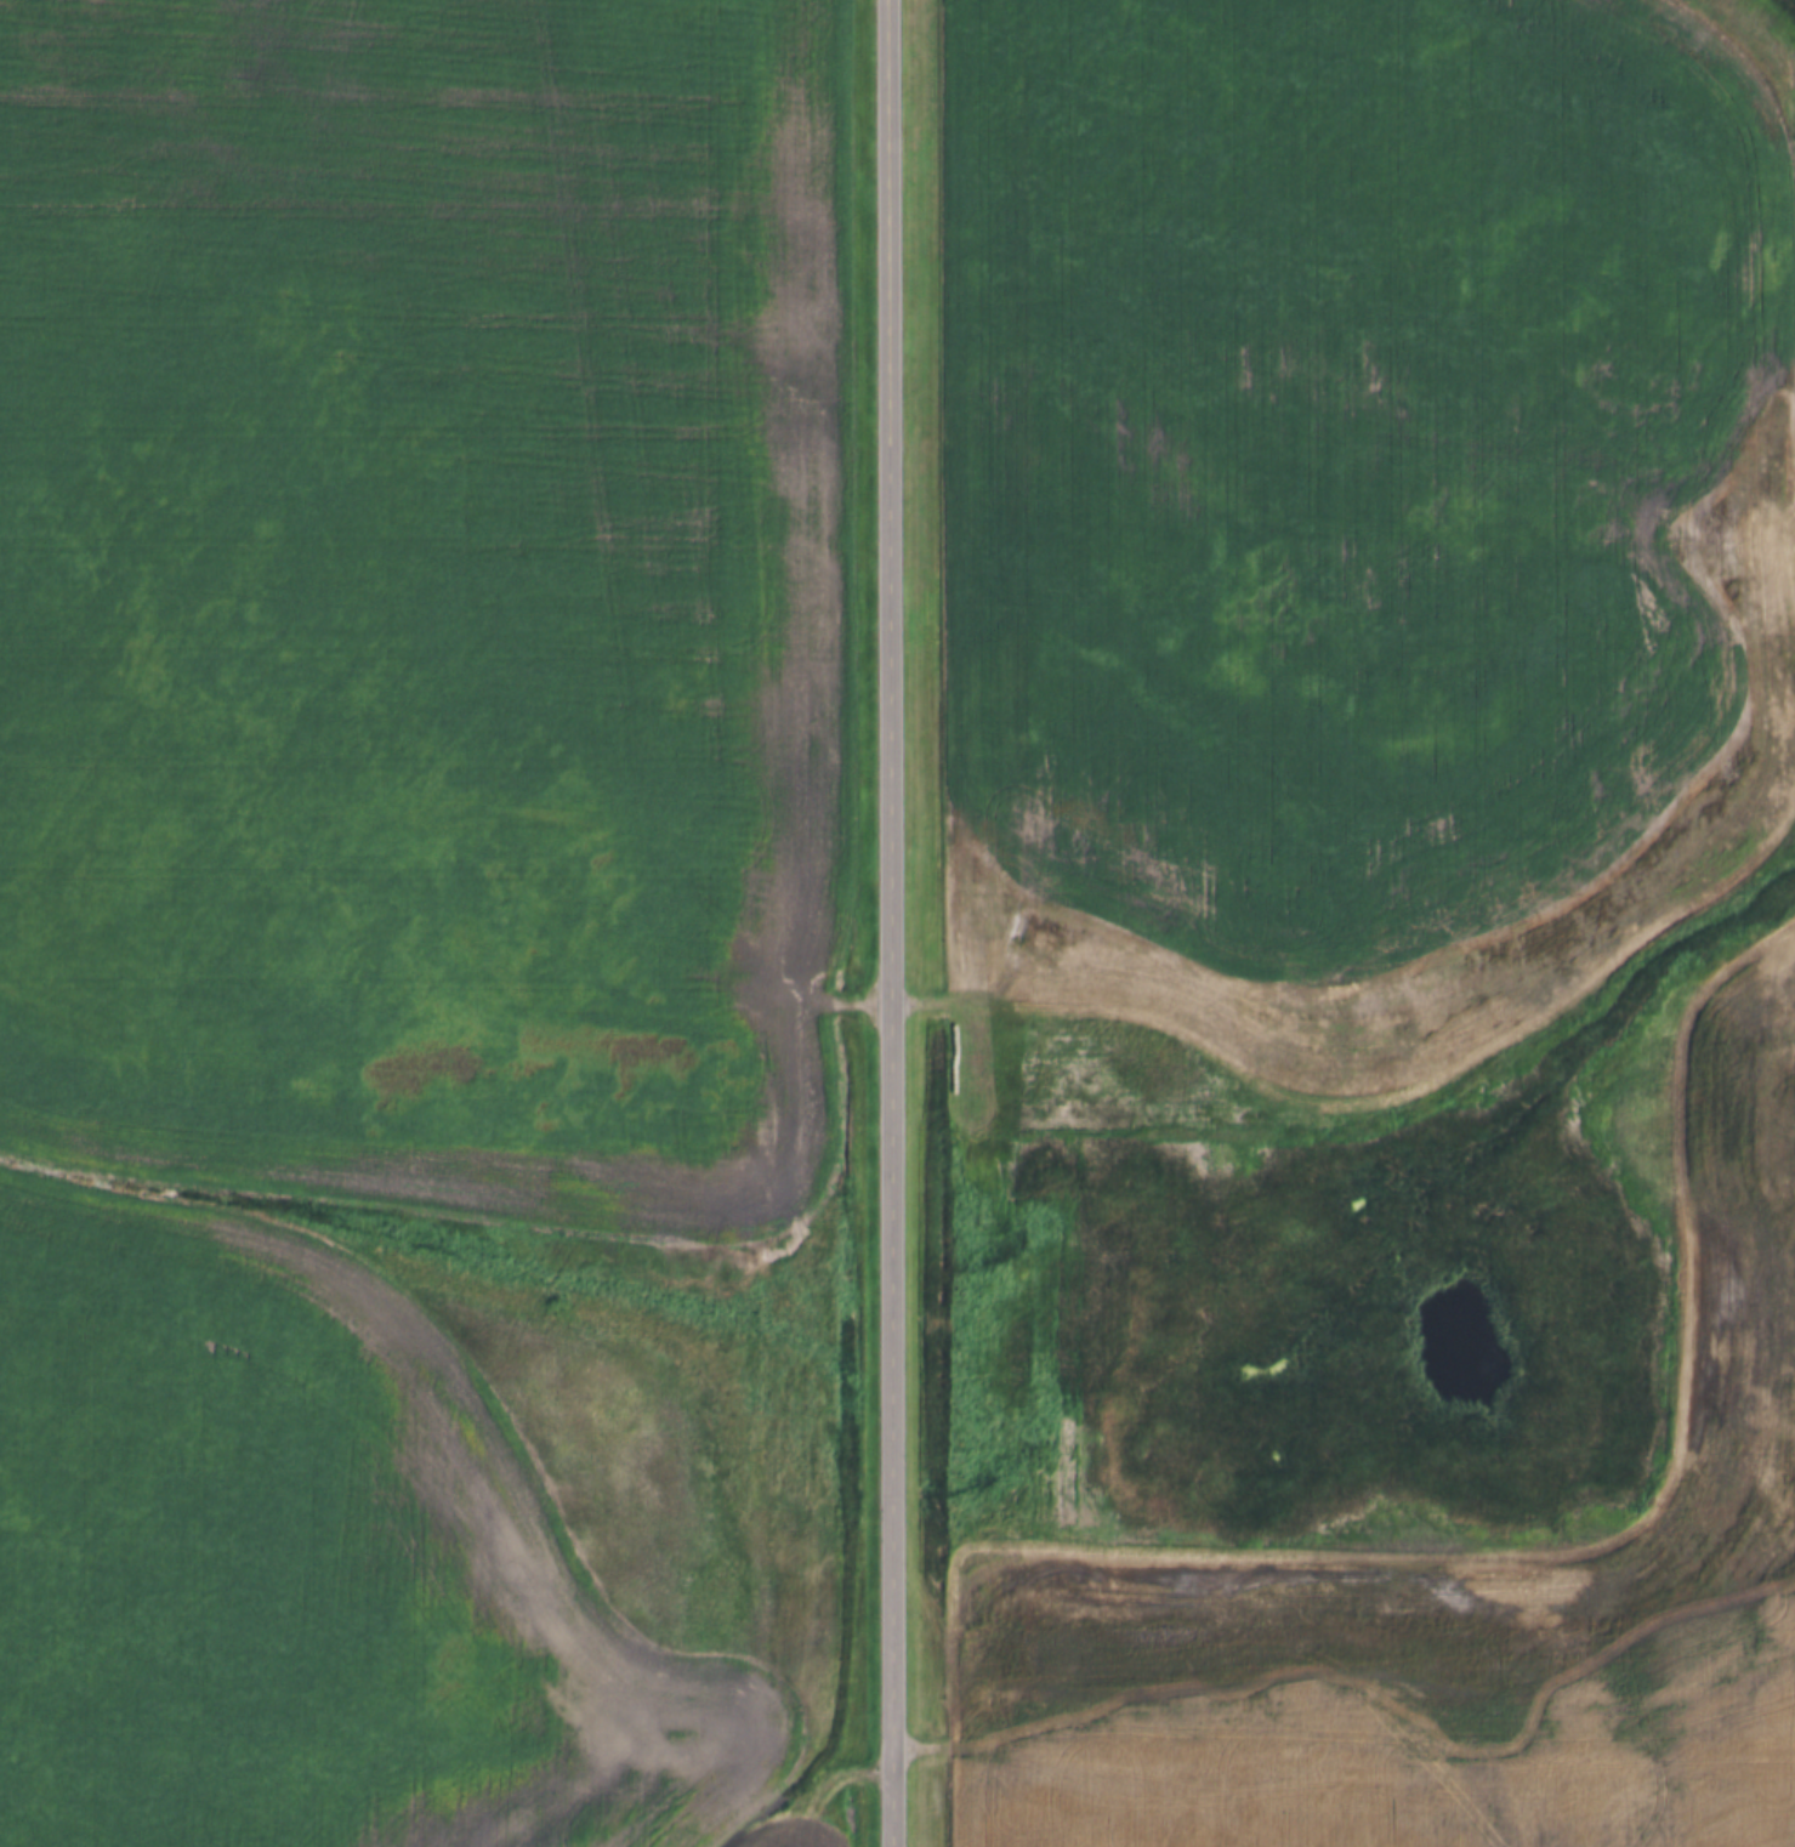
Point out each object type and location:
road: (888, 923)
road: (468, 1464)

